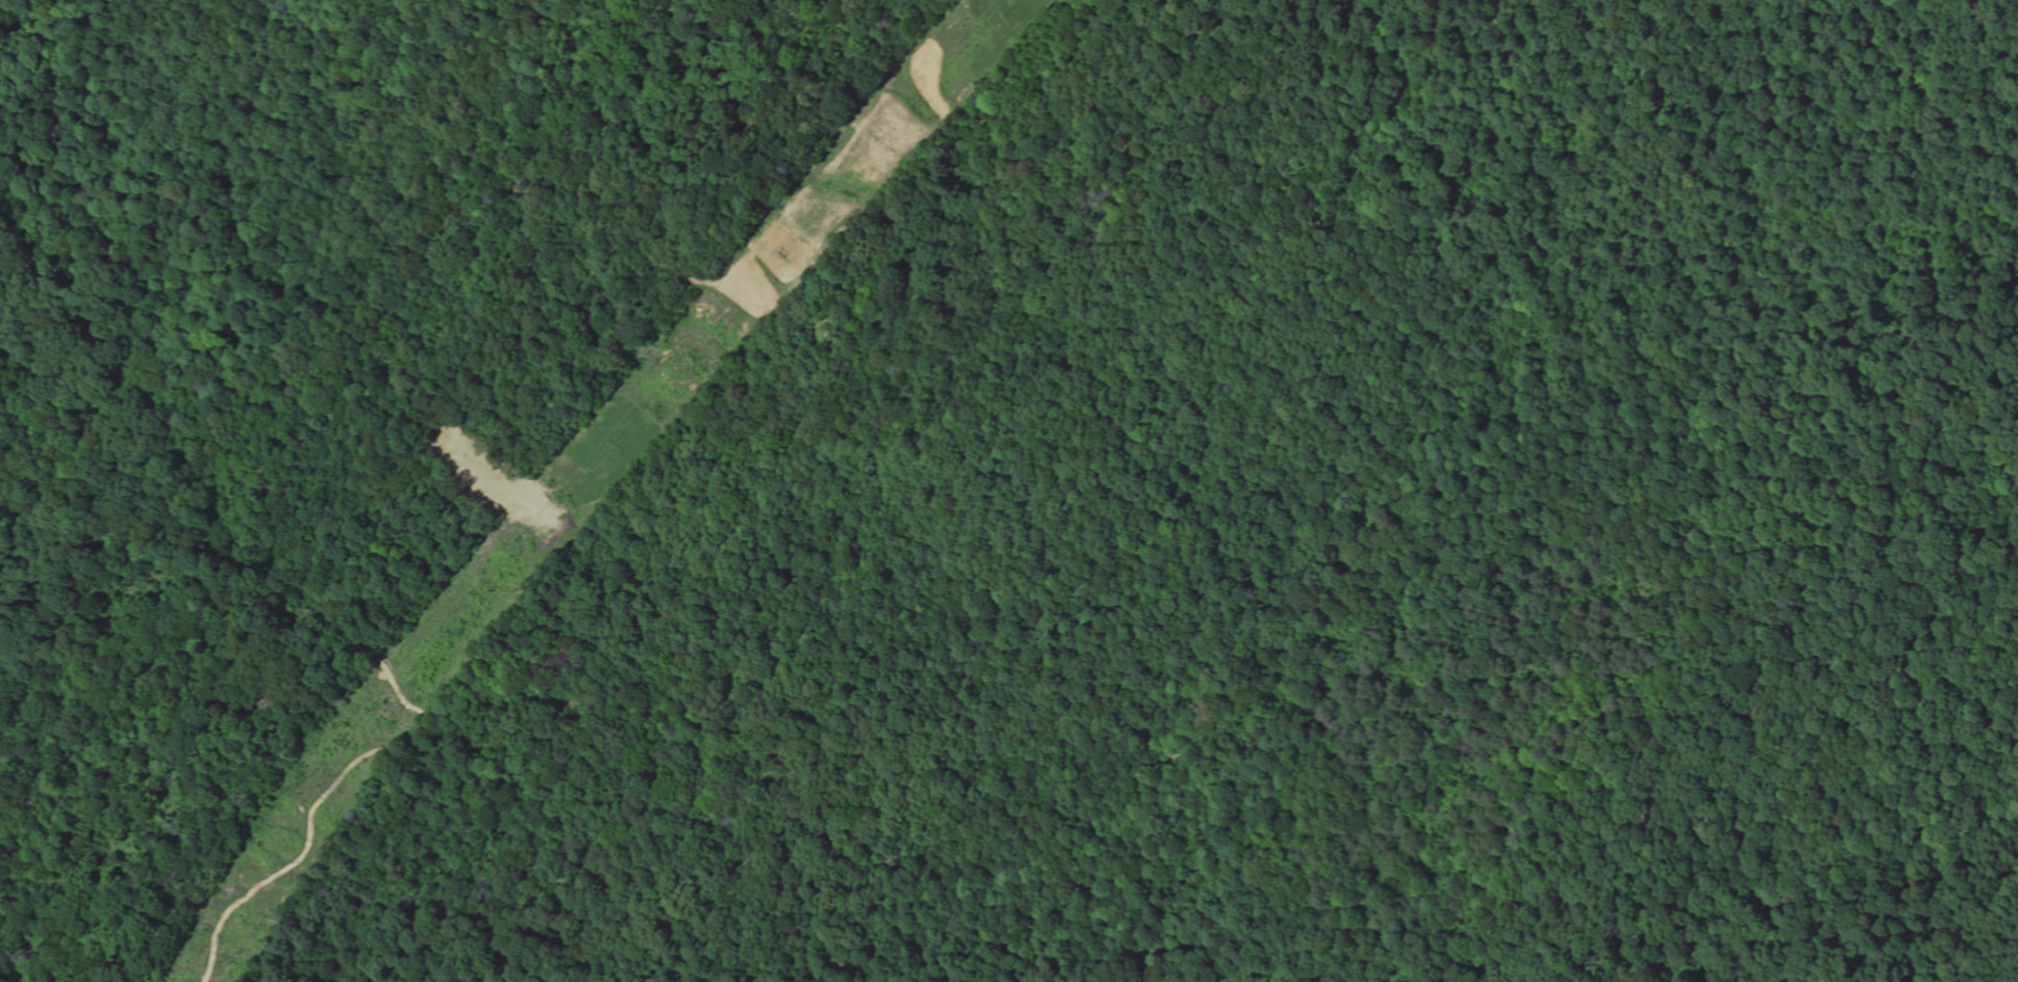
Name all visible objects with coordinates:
road: (290, 502)

